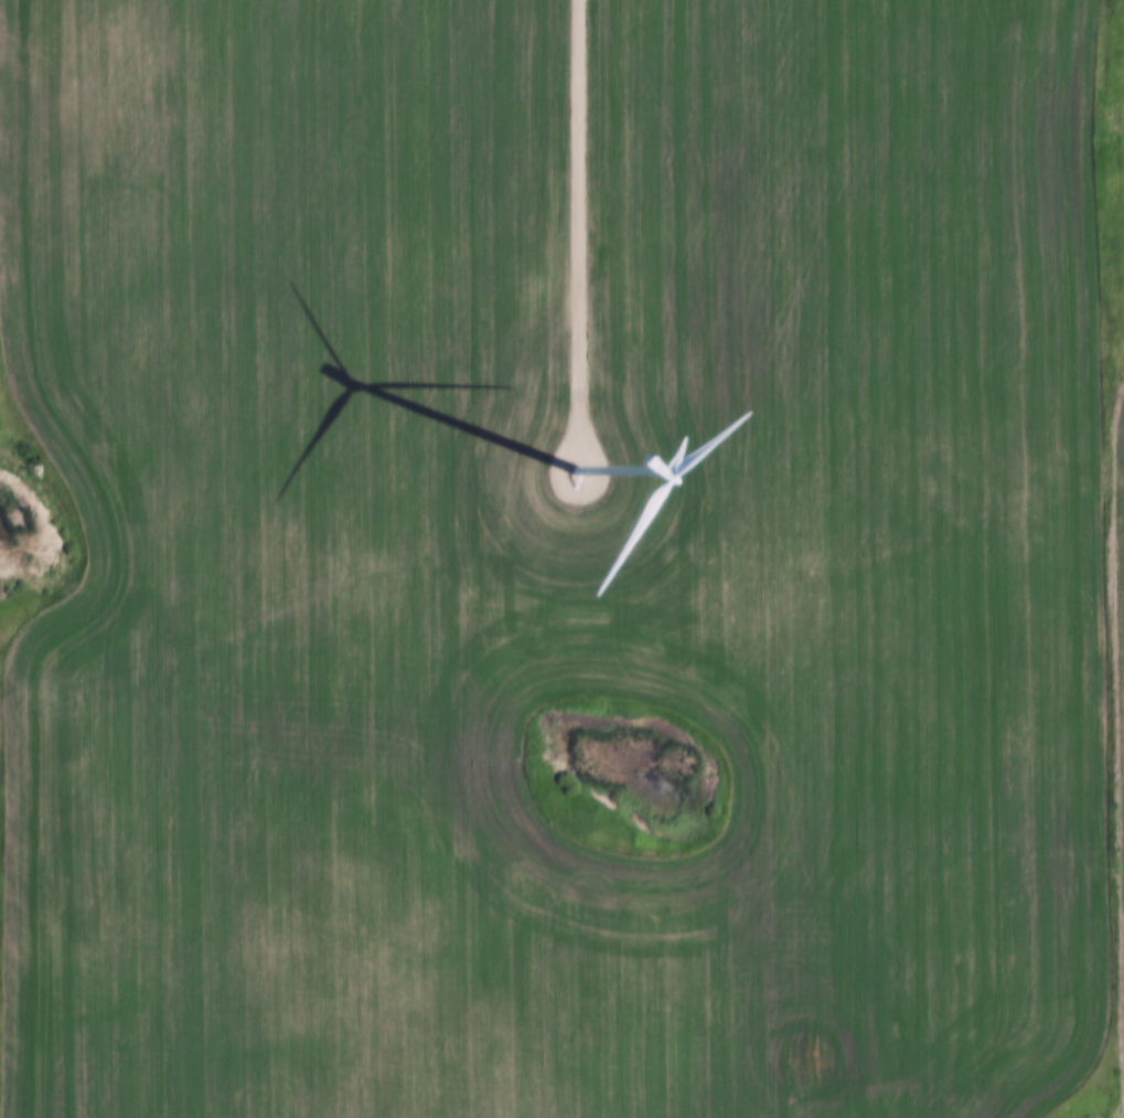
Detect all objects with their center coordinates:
wind turbine: (581, 472)

